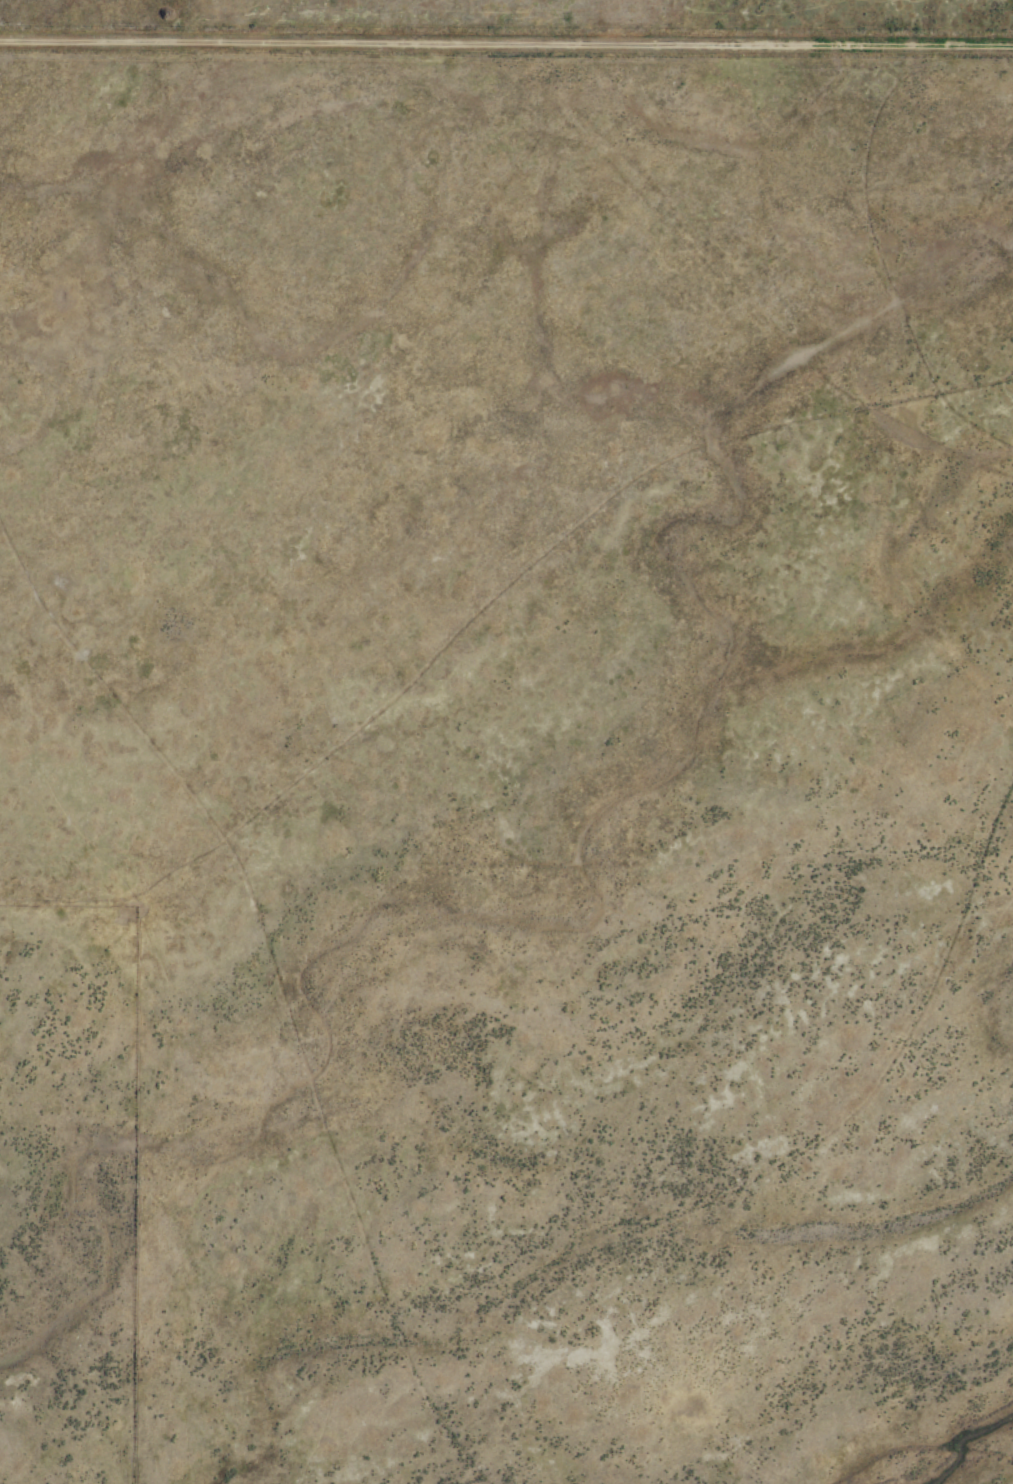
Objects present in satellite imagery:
road: (506, 33)
crop: (506, 742)

